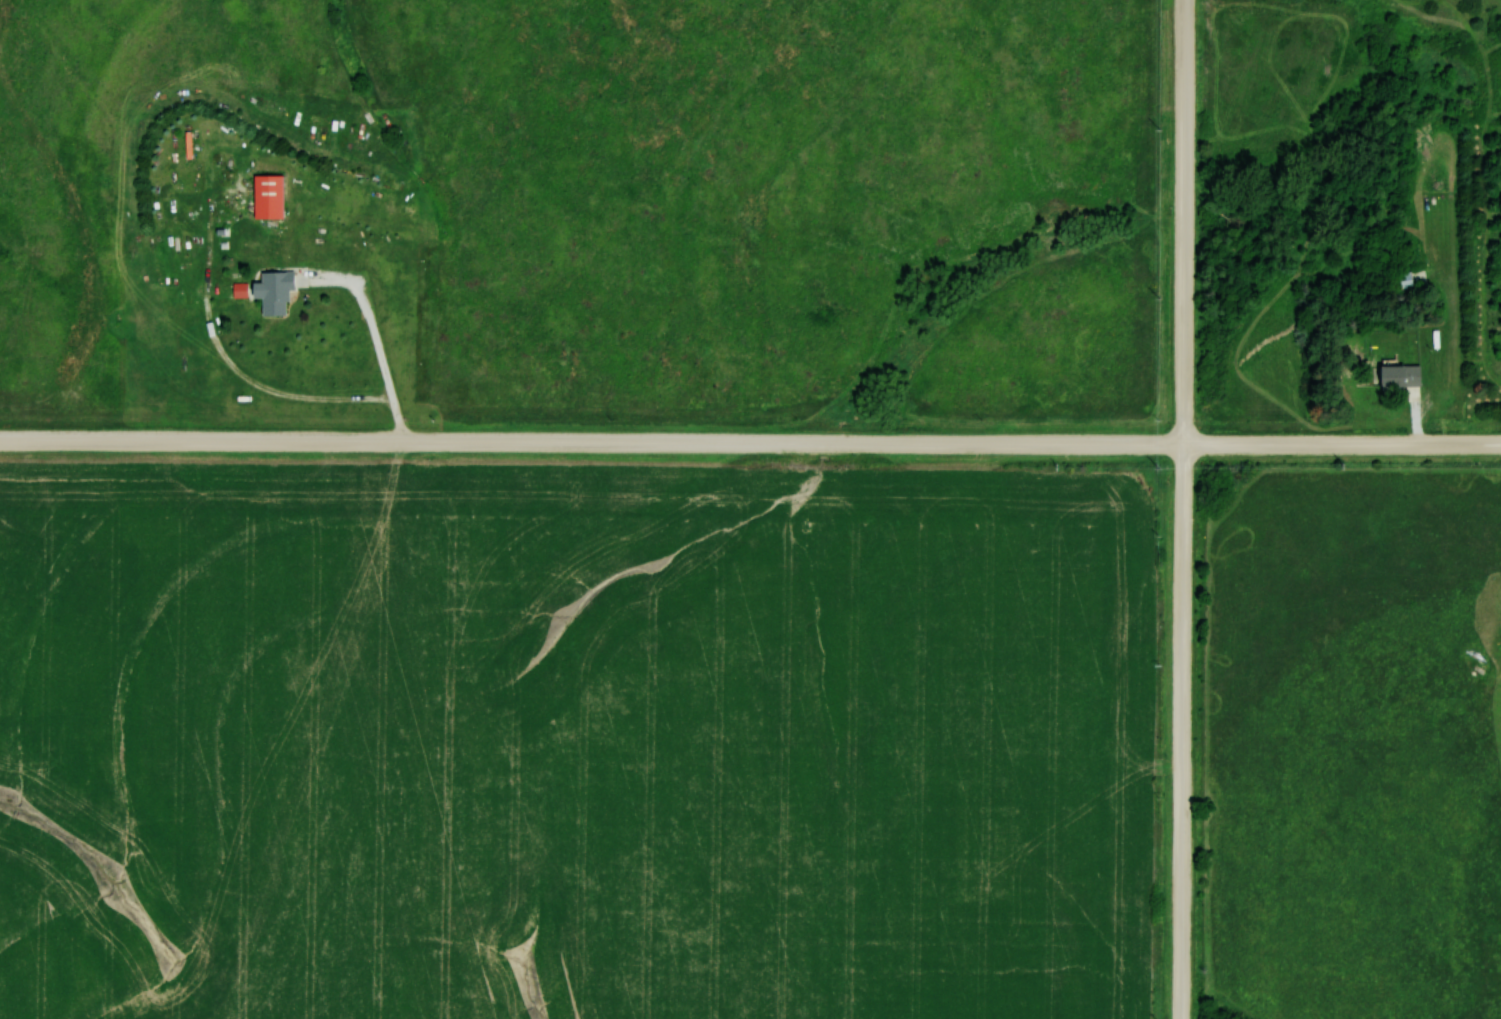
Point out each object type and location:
building: (266, 196)
building: (270, 291)
road: (375, 335)
building: (1396, 377)
road: (750, 442)
road: (1183, 509)

